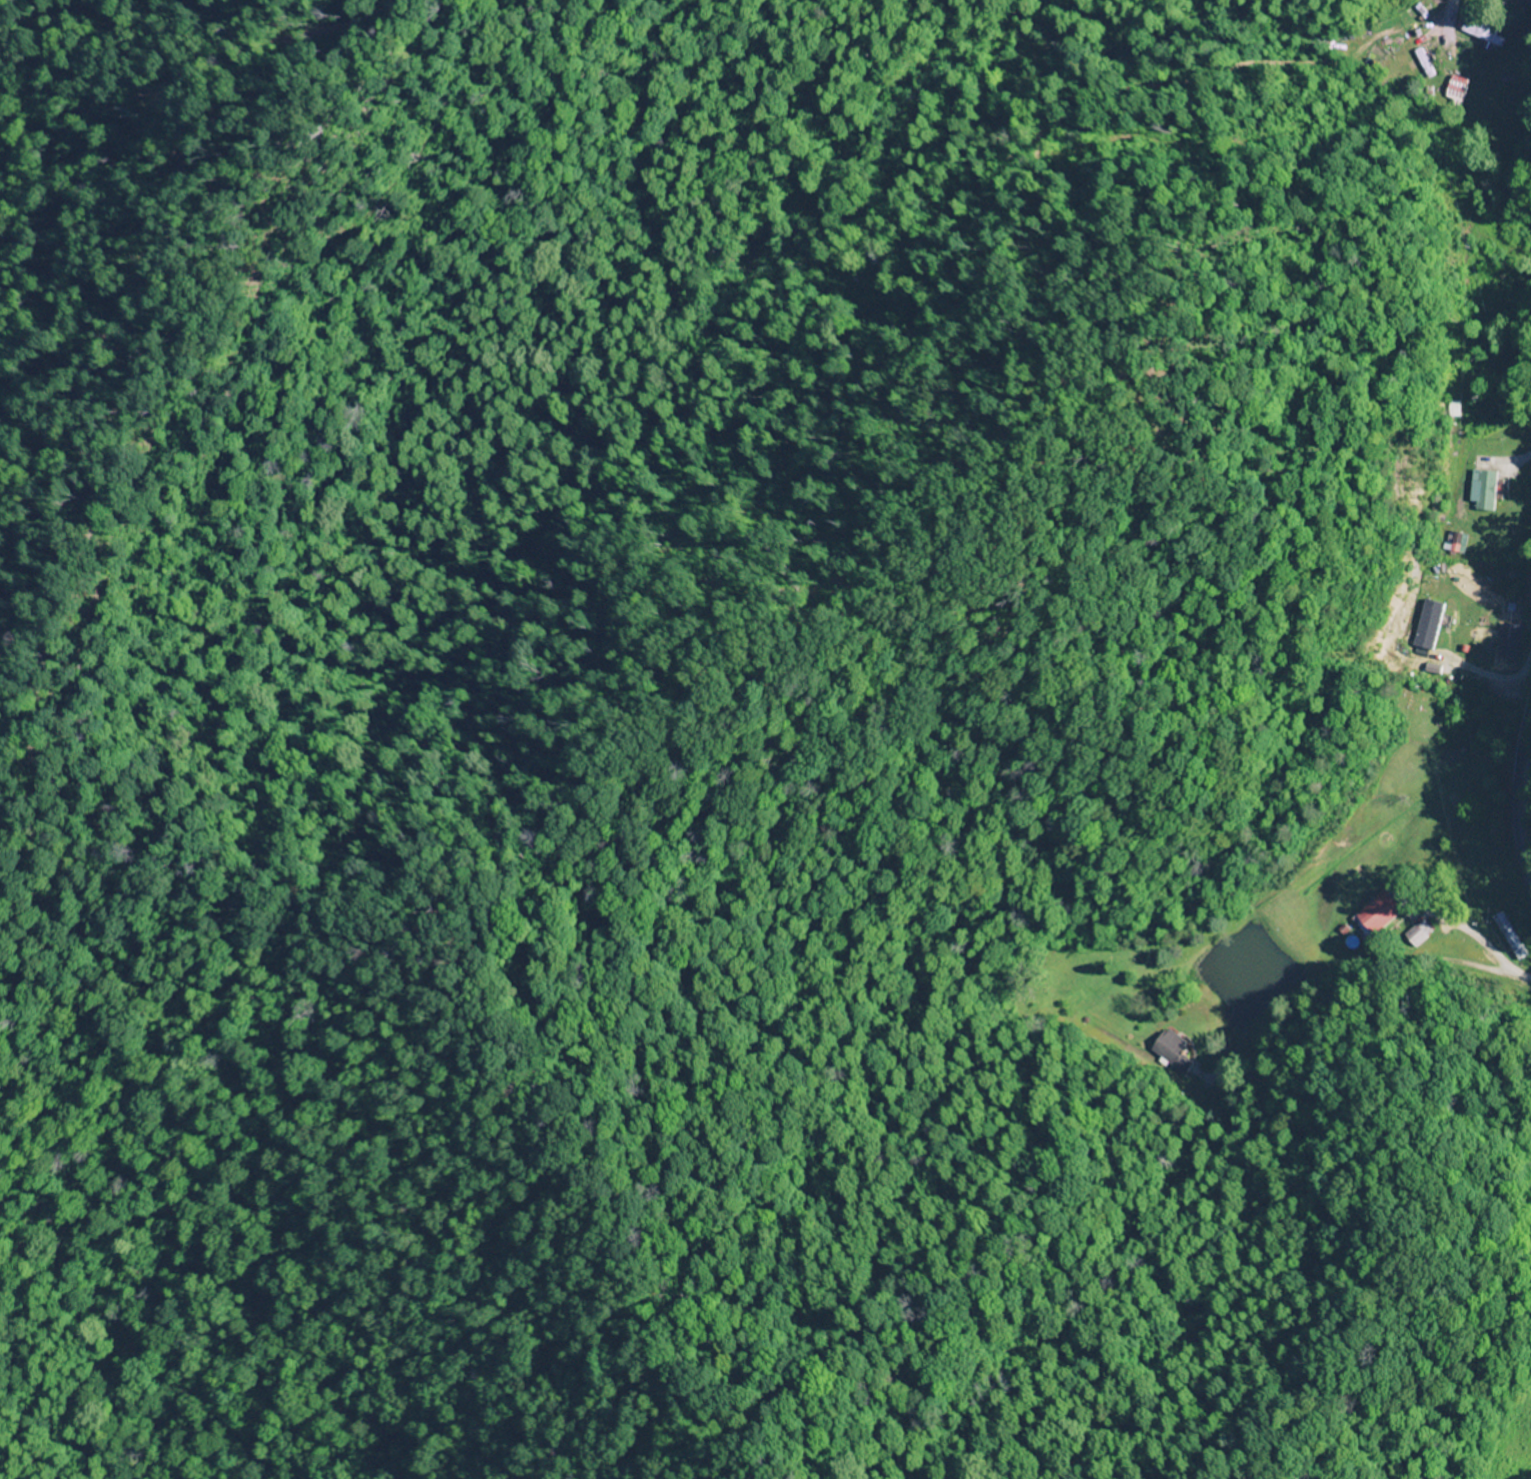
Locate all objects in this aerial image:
road: (1460, 18)
building: (1483, 35)
building: (1480, 491)
building: (1425, 626)
building: (1508, 642)
road: (1525, 793)
building: (1382, 912)
building: (1417, 933)
building: (1173, 1051)
road: (1449, 1139)

